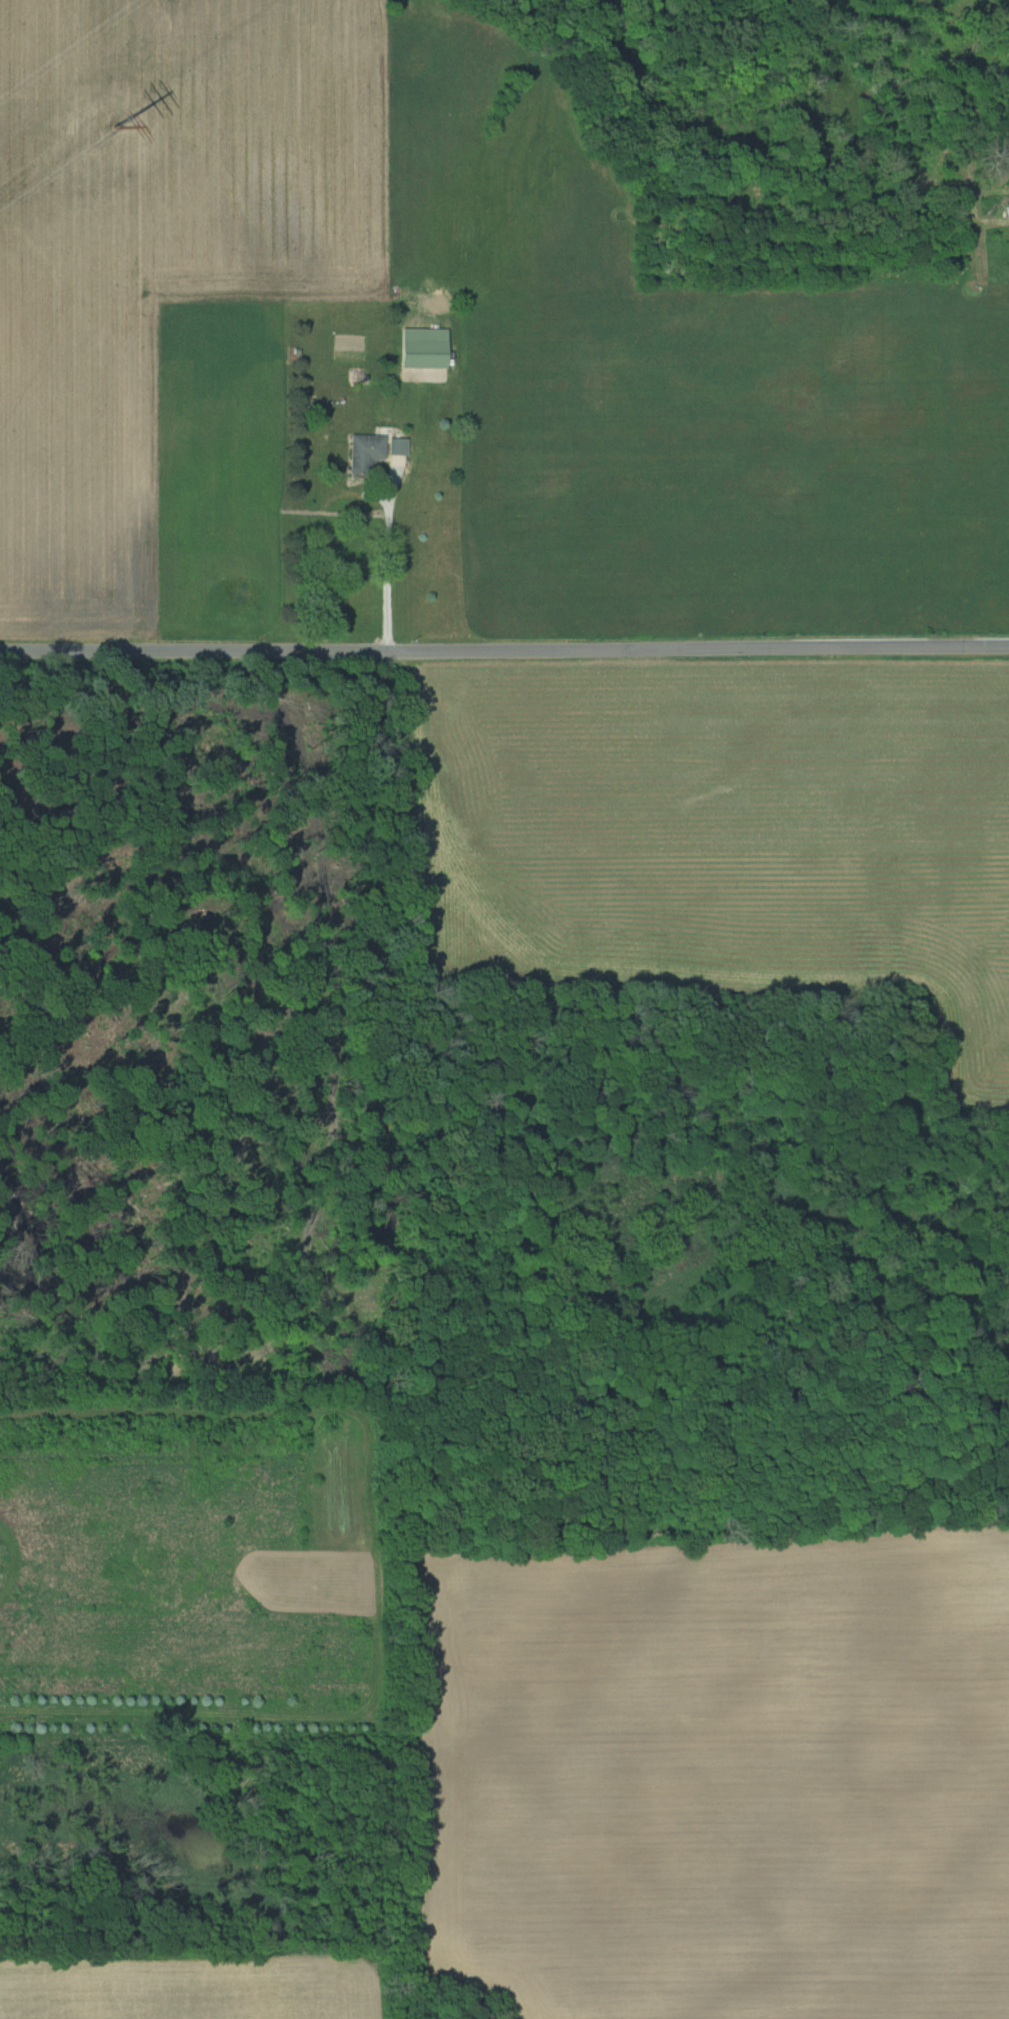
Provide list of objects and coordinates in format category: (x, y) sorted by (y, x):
power tower: (113, 121)
building: (422, 348)
building: (362, 452)
road: (387, 570)
road: (504, 650)

